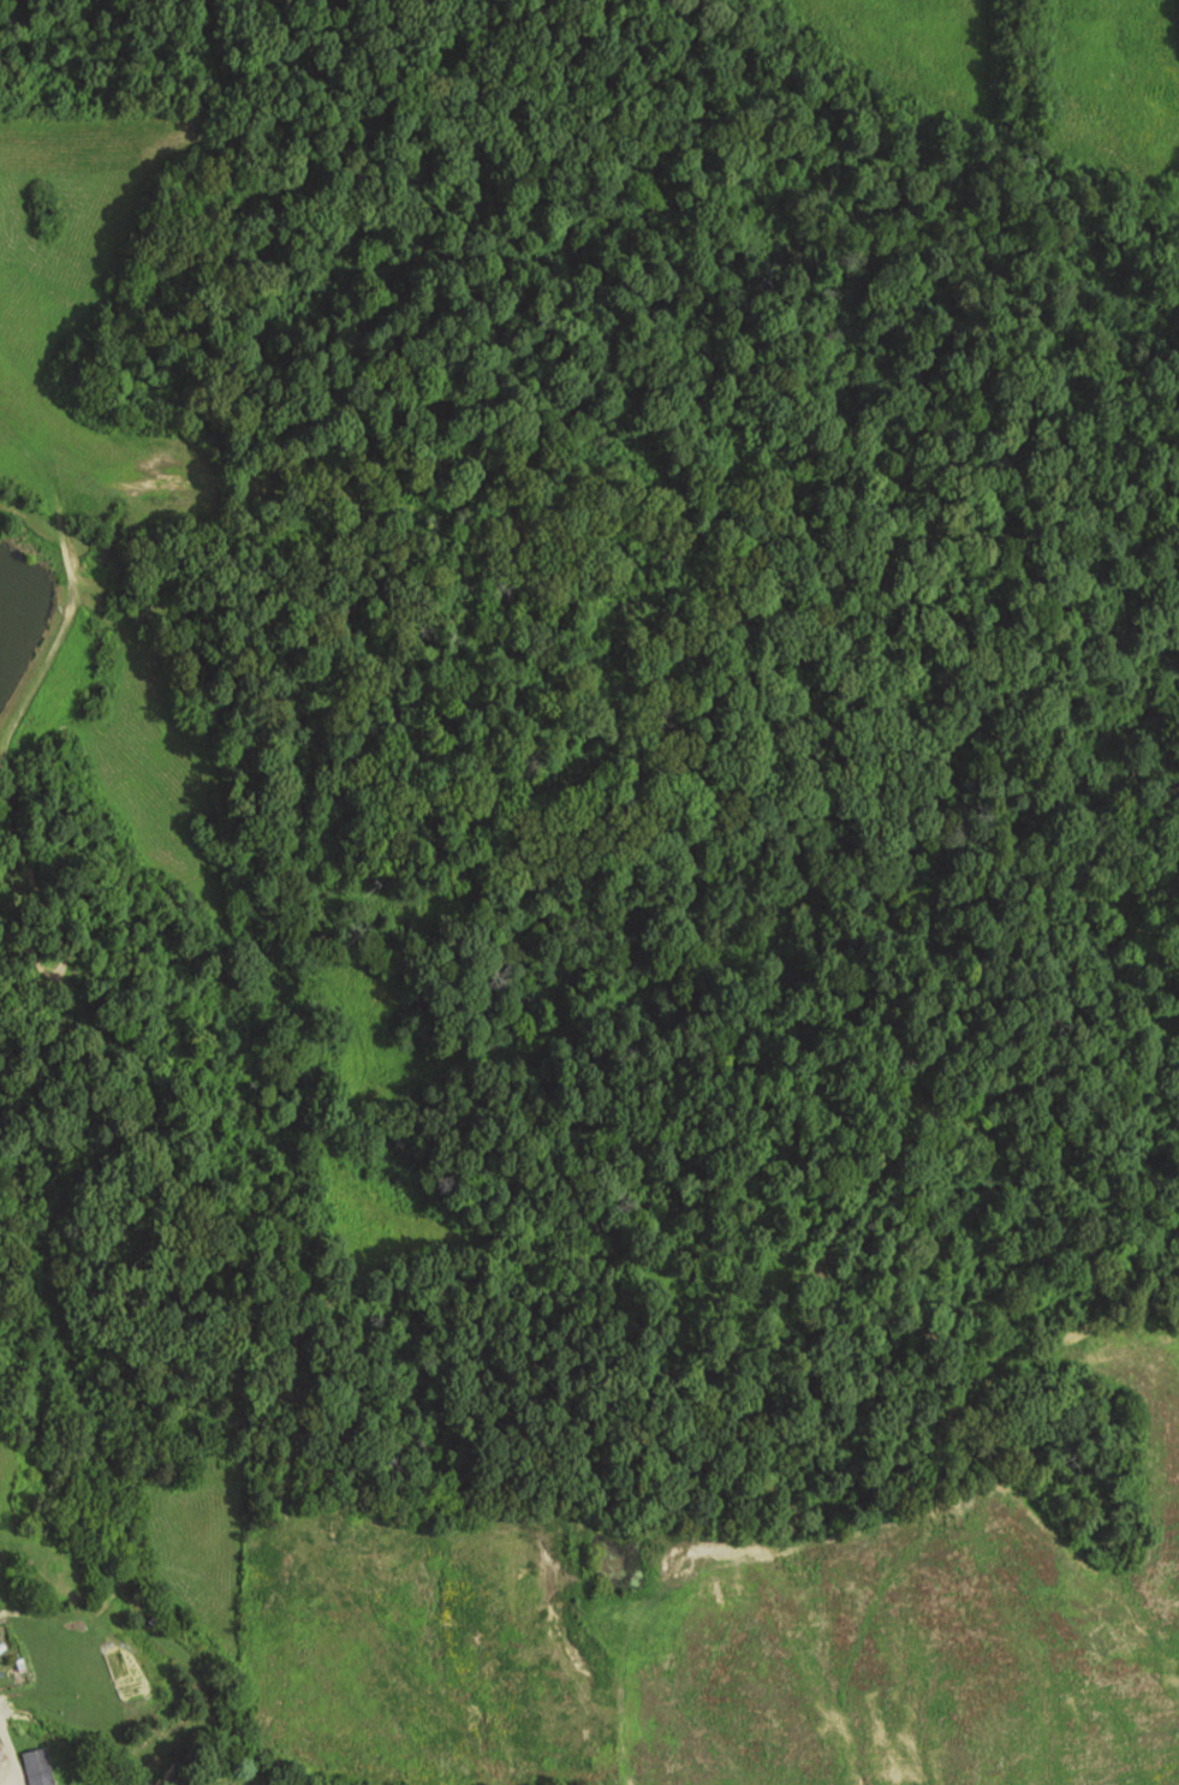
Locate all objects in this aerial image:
road: (11, 1750)
building: (35, 1767)

